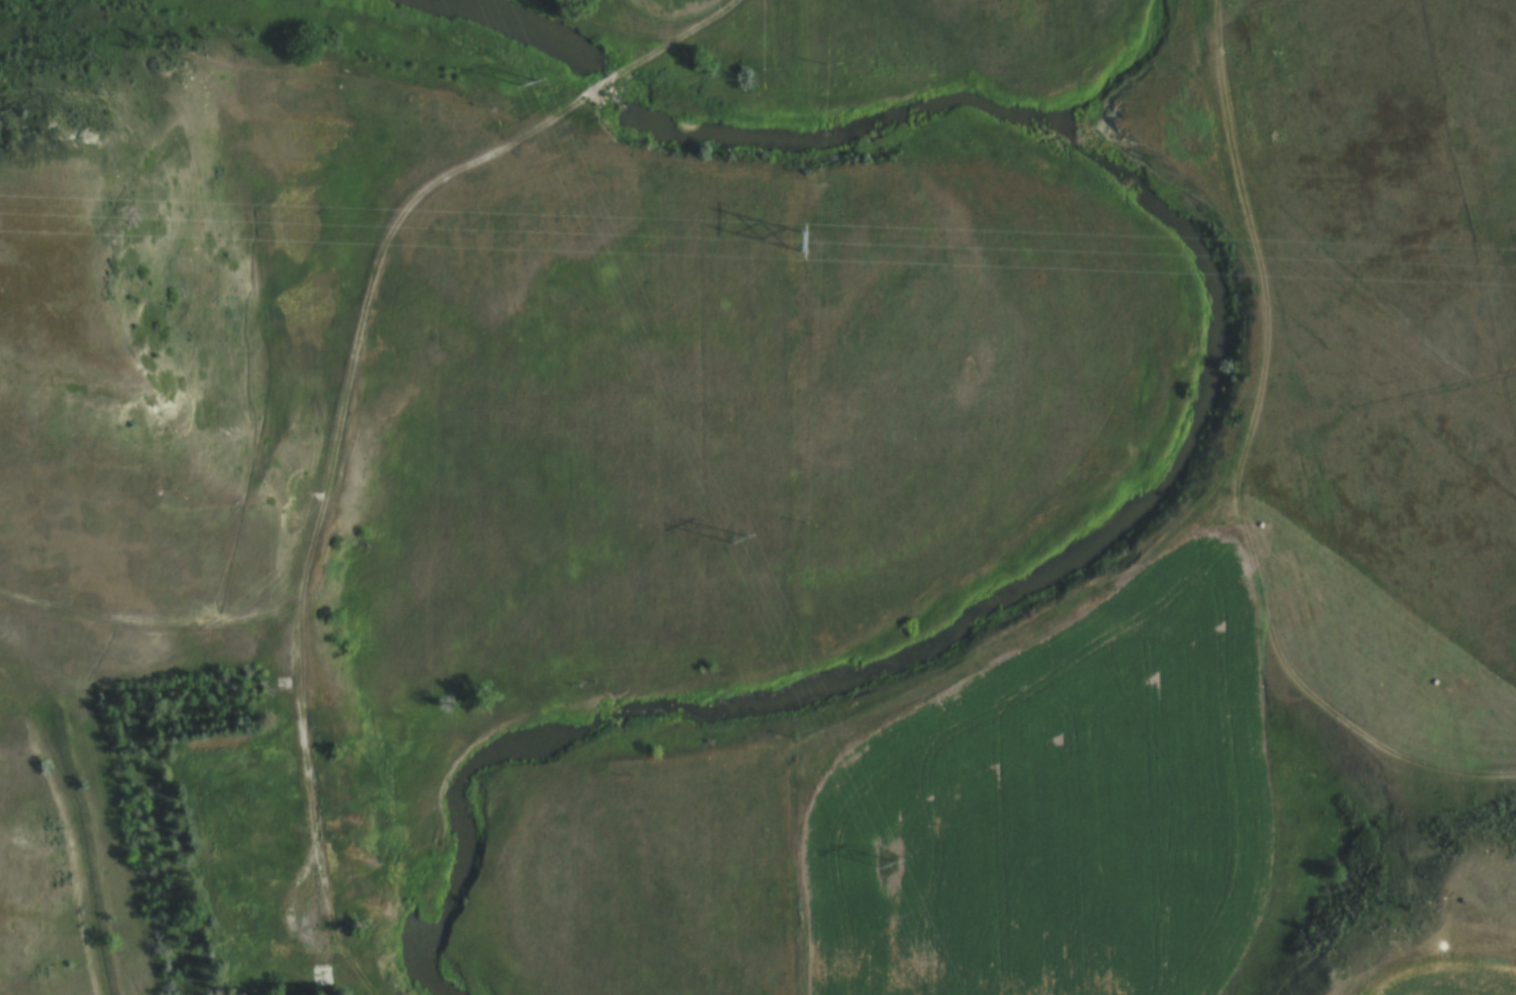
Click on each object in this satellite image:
power tower: (523, 85)
power tower: (803, 247)
road: (358, 333)
road: (1240, 464)
power tower: (735, 547)
power tower: (883, 875)
road: (330, 928)

